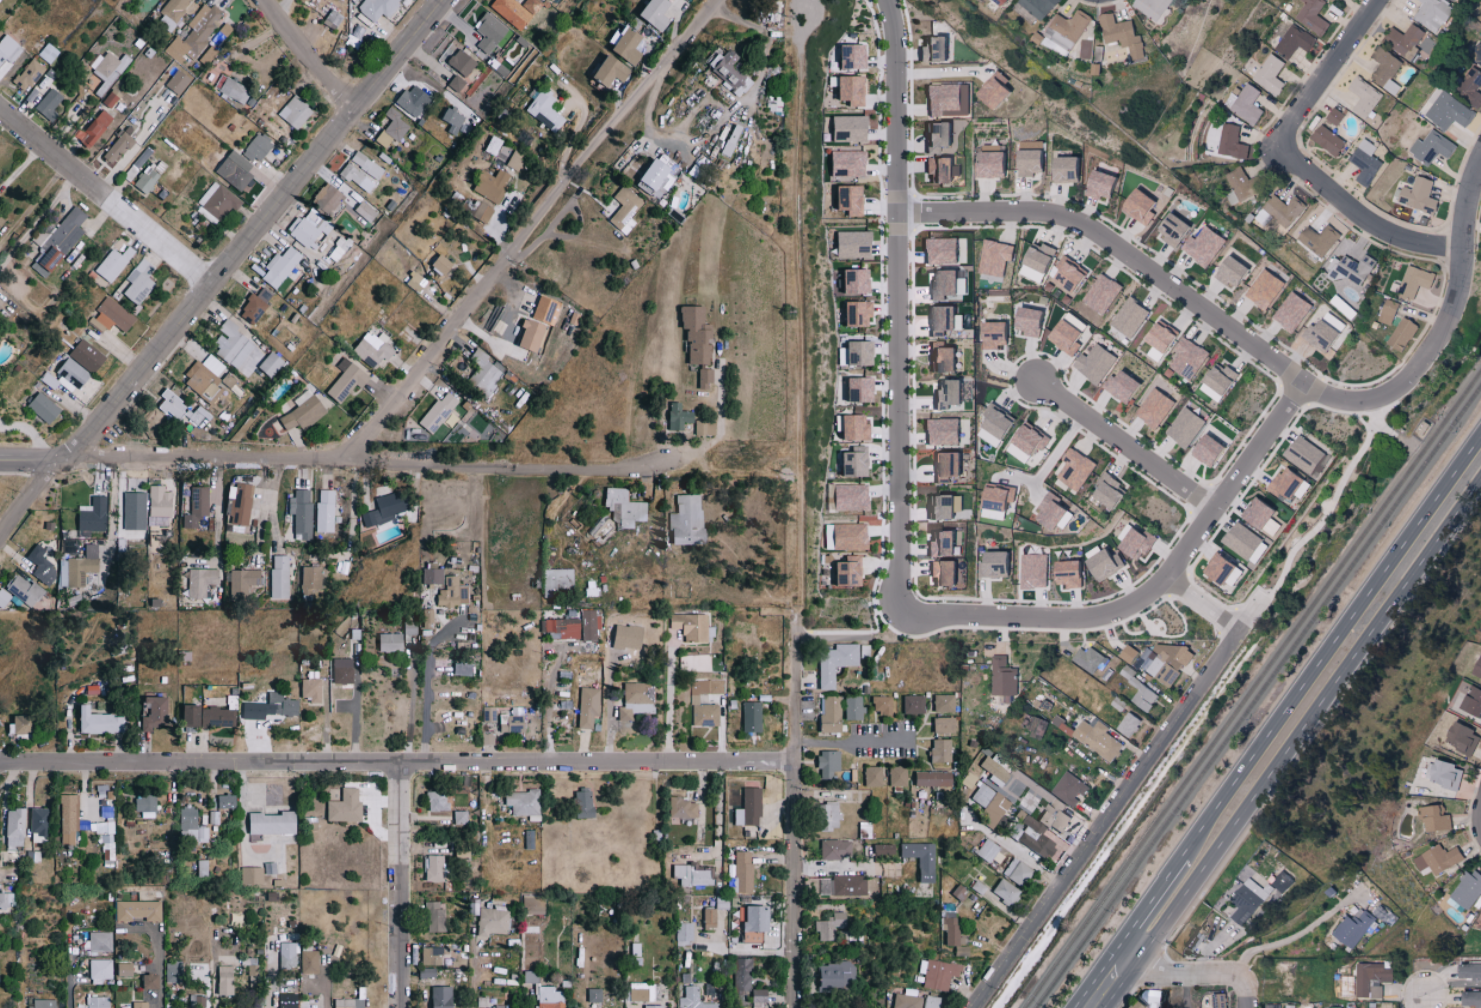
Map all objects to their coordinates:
building: (552, 0)
building: (1455, 0)
building: (1007, 2)
building: (532, 5)
building: (1041, 7)
building: (377, 8)
building: (1155, 8)
building: (512, 12)
building: (172, 13)
building: (661, 13)
building: (1434, 14)
building: (331, 16)
building: (1314, 16)
building: (201, 29)
building: (225, 29)
building: (1070, 30)
building: (490, 33)
building: (1125, 36)
building: (1296, 41)
building: (1412, 43)
building: (633, 45)
building: (9, 49)
building: (938, 49)
building: (47, 54)
building: (1476, 54)
building: (208, 55)
road: (313, 55)
building: (855, 56)
building: (462, 62)
building: (1388, 69)
building: (108, 70)
building: (616, 71)
road: (1327, 71)
building: (30, 74)
building: (1272, 74)
building: (178, 81)
building: (457, 83)
building: (1471, 86)
building: (235, 90)
building: (854, 90)
building: (1000, 92)
building: (1367, 97)
building: (110, 99)
building: (946, 100)
building: (408, 101)
road: (715, 103)
building: (50, 104)
building: (1249, 104)
building: (545, 110)
building: (296, 112)
building: (1450, 112)
building: (1337, 117)
building: (453, 121)
building: (392, 128)
building: (96, 129)
building: (852, 129)
building: (942, 136)
building: (1330, 141)
building: (1233, 143)
building: (494, 145)
building: (258, 147)
building: (118, 148)
building: (1433, 148)
building: (516, 159)
building: (138, 163)
building: (850, 163)
building: (994, 163)
building: (1369, 163)
building: (235, 170)
building: (944, 170)
building: (1070, 170)
building: (362, 172)
building: (665, 172)
building: (146, 180)
building: (492, 184)
building: (1105, 185)
building: (1244, 187)
road: (106, 195)
building: (1421, 196)
building: (329, 198)
building: (852, 199)
building: (218, 200)
building: (1144, 206)
building: (635, 210)
building: (367, 211)
building: (1286, 211)
building: (484, 213)
road: (1363, 215)
road: (39, 220)
building: (2, 221)
building: (309, 228)
road: (257, 229)
road: (529, 230)
building: (1177, 230)
building: (1321, 241)
building: (59, 243)
building: (856, 244)
building: (1206, 246)
road: (1118, 249)
building: (944, 251)
building: (998, 257)
building: (114, 263)
building: (1040, 263)
building: (443, 264)
building: (281, 266)
building: (1355, 269)
building: (1237, 273)
building: (1076, 277)
building: (857, 281)
building: (139, 282)
building: (417, 282)
building: (1416, 282)
building: (948, 284)
building: (1267, 289)
road: (1457, 290)
building: (1104, 294)
road: (796, 304)
building: (256, 306)
road: (896, 306)
building: (546, 310)
building: (1294, 312)
building: (860, 313)
building: (1390, 313)
building: (112, 316)
building: (1132, 317)
building: (575, 318)
building: (946, 320)
building: (1033, 322)
building: (1401, 333)
building: (1072, 334)
building: (997, 335)
building: (1327, 335)
building: (533, 336)
building: (712, 336)
building: (1166, 341)
building: (233, 345)
building: (373, 350)
building: (862, 353)
building: (87, 356)
building: (946, 358)
building: (1191, 360)
building: (270, 364)
building: (1098, 364)
building: (483, 373)
building: (72, 374)
building: (204, 375)
building: (229, 380)
building: (347, 380)
building: (720, 381)
building: (1223, 383)
building: (1127, 386)
building: (862, 390)
building: (953, 394)
road: (1341, 400)
building: (45, 408)
building: (179, 408)
building: (1157, 409)
building: (304, 411)
building: (440, 413)
building: (693, 419)
building: (853, 427)
building: (999, 427)
building: (1188, 427)
building: (718, 429)
building: (475, 430)
building: (945, 432)
building: (1030, 443)
road: (1126, 447)
building: (1212, 451)
road: (1059, 452)
building: (1304, 456)
road: (35, 461)
road: (375, 462)
building: (858, 462)
building: (951, 466)
building: (1078, 470)
road: (1234, 479)
road: (267, 482)
building: (1286, 484)
building: (1112, 492)
building: (852, 497)
road: (1334, 498)
road: (35, 502)
building: (999, 503)
building: (240, 504)
building: (160, 507)
building: (197, 507)
building: (946, 507)
building: (383, 509)
road: (217, 510)
road: (351, 510)
building: (635, 510)
road: (112, 511)
building: (134, 511)
building: (325, 511)
building: (1056, 513)
building: (302, 514)
building: (94, 516)
building: (1259, 516)
road: (261, 519)
building: (698, 522)
building: (1243, 541)
building: (1139, 544)
building: (945, 545)
building: (1094, 553)
building: (1108, 564)
building: (1001, 565)
building: (79, 567)
building: (1215, 569)
building: (44, 571)
building: (851, 572)
building: (1034, 572)
building: (947, 574)
building: (1072, 574)
building: (280, 577)
building: (438, 577)
building: (201, 582)
building: (311, 582)
building: (243, 583)
building: (567, 583)
building: (25, 591)
building: (459, 594)
building: (3, 598)
road: (1203, 604)
road: (1258, 612)
road: (1035, 616)
building: (432, 619)
road: (796, 620)
building: (694, 627)
building: (415, 628)
building: (582, 628)
building: (632, 637)
building: (395, 643)
road: (1332, 647)
building: (864, 651)
building: (1127, 653)
building: (1088, 659)
building: (1165, 661)
building: (836, 663)
building: (1477, 667)
building: (467, 670)
building: (344, 671)
building: (1002, 676)
building: (312, 690)
railway: (1251, 690)
building: (1142, 695)
railway: (1256, 696)
building: (695, 699)
road: (548, 700)
building: (637, 700)
building: (941, 702)
building: (1471, 702)
building: (911, 703)
road: (668, 704)
building: (879, 704)
building: (272, 707)
building: (589, 707)
building: (852, 707)
road: (411, 713)
building: (156, 714)
building: (830, 714)
building: (210, 717)
building: (752, 717)
building: (512, 722)
building: (940, 724)
building: (21, 725)
building: (1128, 725)
building: (1036, 727)
building: (1459, 737)
building: (1096, 738)
road: (855, 742)
road: (1294, 746)
building: (939, 749)
road: (398, 761)
building: (825, 761)
building: (992, 769)
building: (1443, 774)
building: (870, 775)
building: (895, 775)
building: (929, 777)
building: (1067, 787)
building: (438, 801)
building: (227, 802)
building: (524, 802)
building: (987, 803)
building: (146, 804)
building: (585, 805)
building: (346, 807)
building: (682, 807)
building: (747, 807)
building: (107, 810)
building: (825, 815)
building: (69, 817)
building: (461, 817)
building: (1433, 817)
building: (1053, 818)
building: (188, 819)
road: (1107, 820)
building: (273, 823)
road: (796, 823)
building: (40, 824)
building: (101, 827)
building: (15, 828)
building: (202, 834)
building: (1033, 837)
building: (107, 841)
building: (880, 847)
building: (833, 848)
building: (985, 850)
road: (1020, 855)
building: (917, 858)
building: (1436, 859)
building: (203, 867)
building: (269, 868)
building: (434, 869)
building: (741, 871)
building: (1016, 871)
building: (251, 875)
building: (692, 875)
road: (402, 884)
building: (840, 884)
building: (1280, 885)
building: (1467, 889)
building: (1003, 892)
building: (7, 899)
building: (1245, 901)
road: (1151, 902)
building: (138, 910)
building: (433, 917)
building: (750, 917)
building: (490, 921)
building: (828, 925)
building: (1351, 928)
building: (682, 931)
road: (984, 932)
road: (1297, 935)
building: (951, 939)
building: (1192, 940)
building: (100, 941)
building: (286, 953)
road: (1114, 954)
building: (431, 955)
road: (159, 960)
building: (309, 961)
road: (472, 967)
building: (101, 968)
building: (125, 969)
building: (174, 971)
building: (1467, 971)
building: (529, 972)
building: (936, 973)
building: (253, 974)
building: (833, 974)
building: (239, 976)
road: (1178, 977)
road: (68, 979)
building: (1370, 979)
building: (226, 980)
building: (150, 981)
road: (268, 983)
building: (743, 984)
road: (1091, 984)
building: (638, 991)
building: (592, 994)
road: (1249, 995)
building: (437, 996)
building: (546, 997)
building: (691, 998)
building: (1469, 998)
building: (287, 1000)
building: (1150, 1000)
building: (1217, 1000)
road: (1423, 1000)
building: (98, 1001)
building: (904, 1001)
building: (929, 1001)
building: (43, 1003)
building: (349, 1003)
building: (141, 1004)
building: (649, 1006)
building: (1136, 1006)
building: (1271, 1006)
building: (503, 1007)
building: (1331, 1007)

